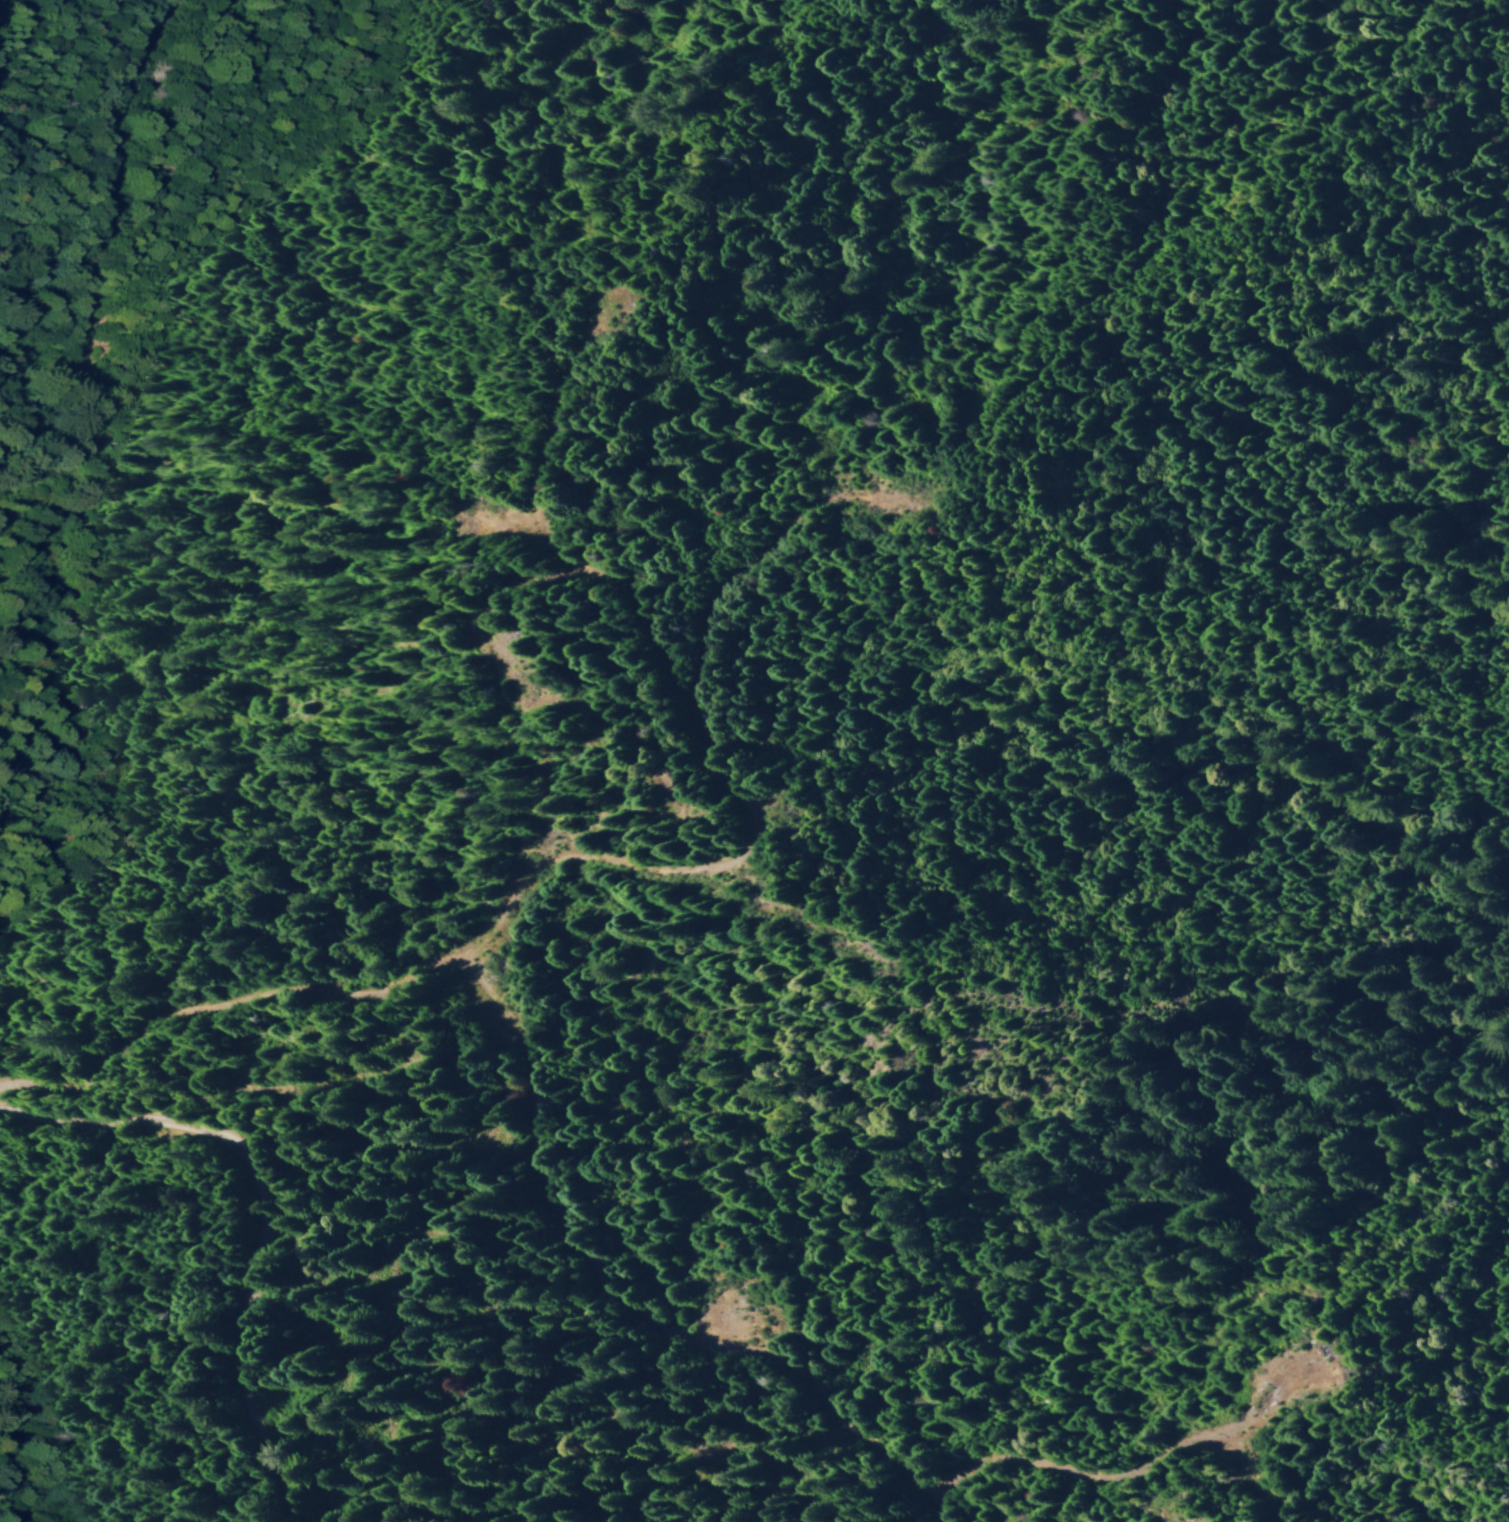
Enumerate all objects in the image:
road: (251, 1216)

